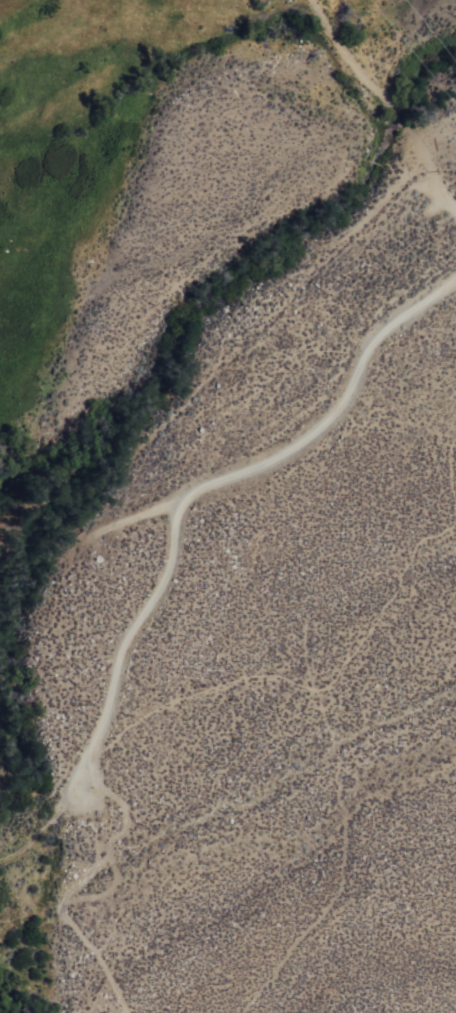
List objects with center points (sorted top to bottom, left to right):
road: (367, 93)
road: (445, 198)
road: (211, 487)
road: (45, 827)
road: (64, 885)

